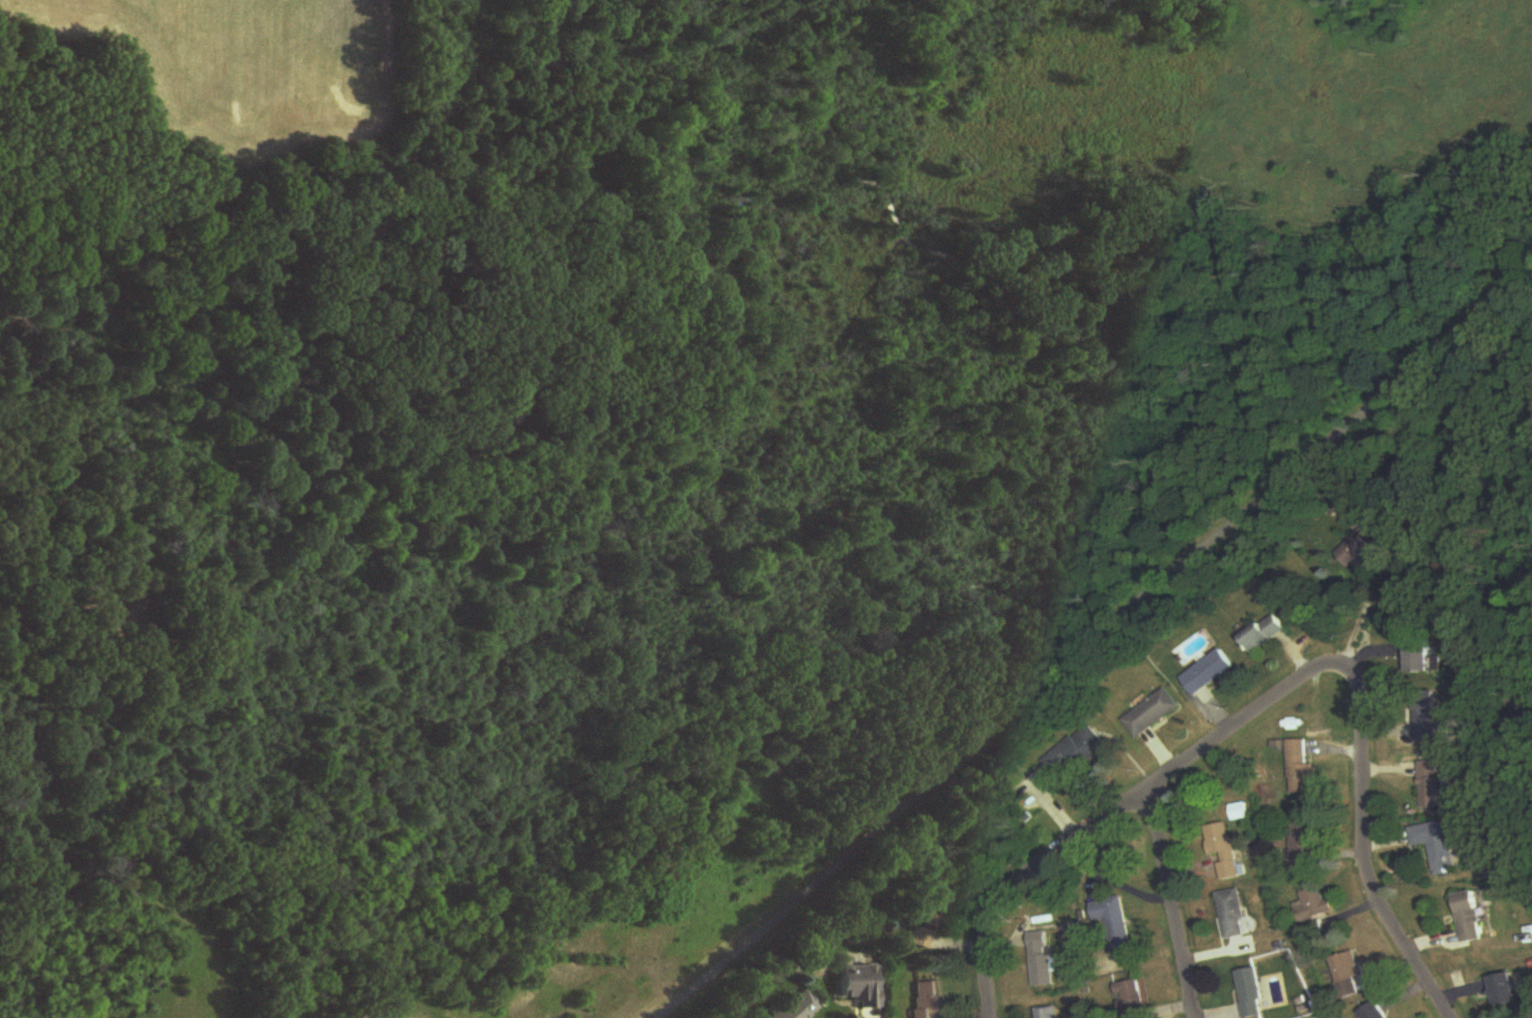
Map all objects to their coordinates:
building: (1364, 548)
road: (1360, 616)
building: (102, 617)
building: (1266, 634)
road: (1083, 646)
building: (1420, 657)
building: (1209, 673)
building: (1153, 714)
building: (1427, 719)
road: (1225, 736)
building: (1076, 754)
building: (1301, 768)
building: (1431, 778)
building: (1242, 812)
road: (1363, 828)
building: (1301, 843)
building: (1439, 845)
building: (1227, 851)
road: (1022, 879)
road: (1168, 905)
building: (1314, 905)
building: (1236, 914)
building: (1471, 917)
building: (1115, 924)
building: (921, 938)
building: (1347, 968)
building: (1043, 971)
building: (859, 985)
building: (1505, 991)
building: (1254, 994)
building: (1131, 997)
building: (926, 999)
building: (1374, 1012)
building: (1048, 1013)

